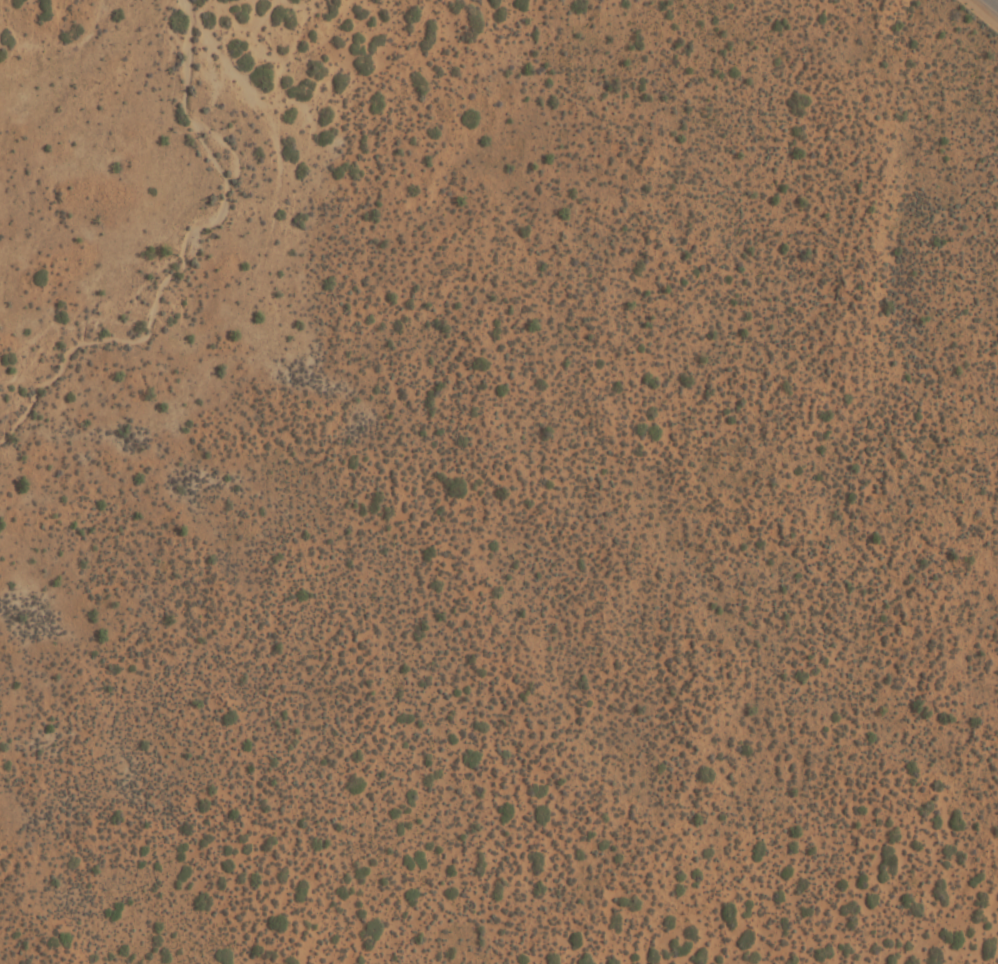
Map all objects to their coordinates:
road: (996, 1)

